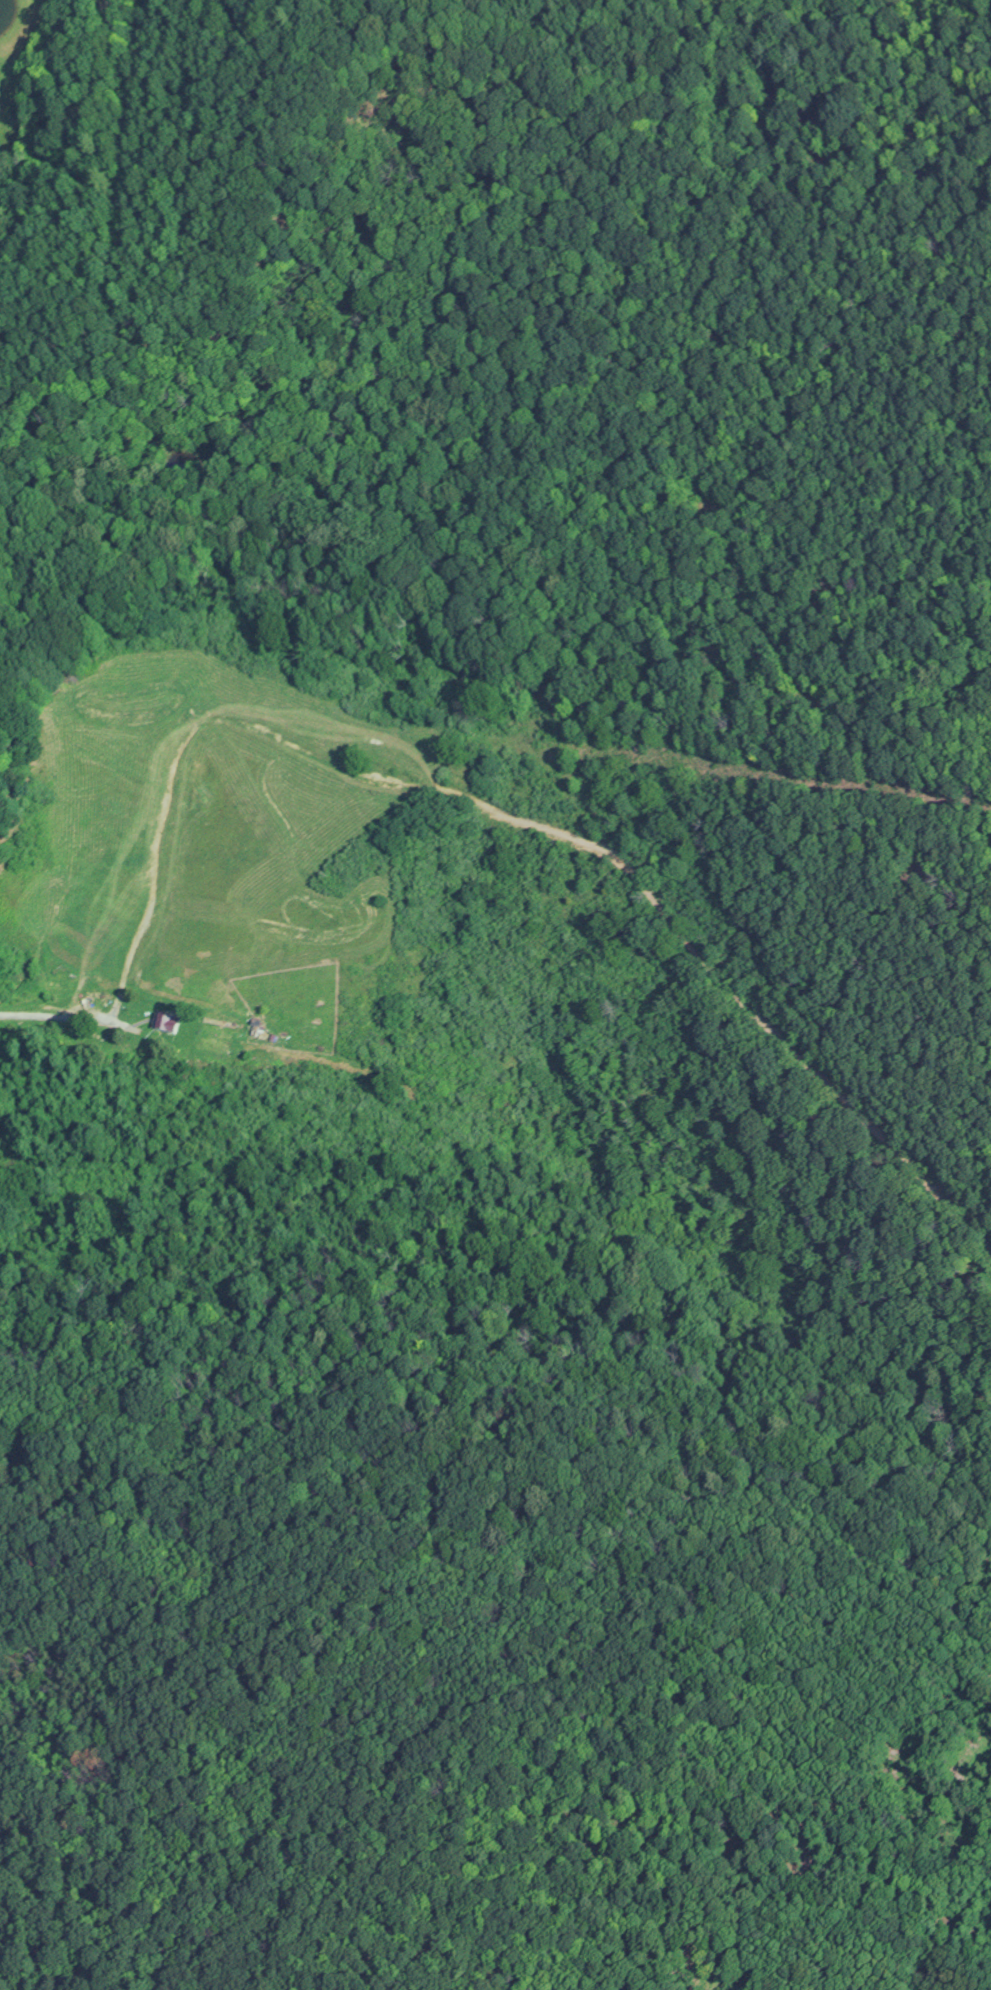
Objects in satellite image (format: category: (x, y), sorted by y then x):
road: (51, 1016)

